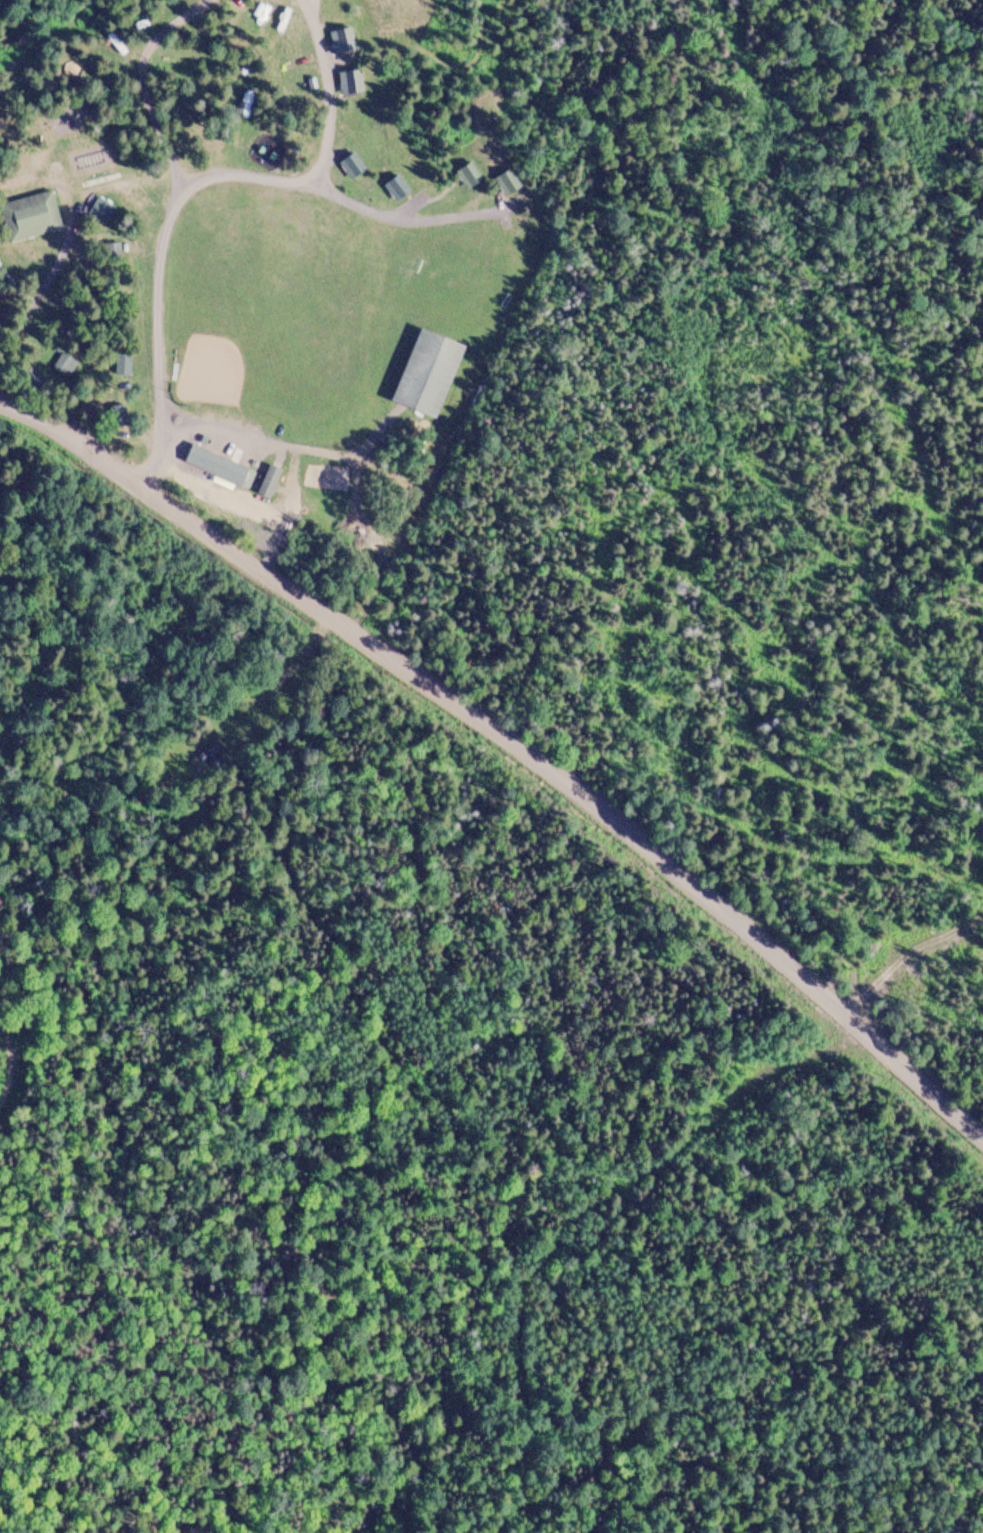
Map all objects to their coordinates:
road: (310, 1)
building: (343, 41)
building: (351, 81)
road: (147, 85)
road: (326, 93)
road: (113, 135)
building: (352, 166)
building: (468, 175)
road: (191, 182)
building: (506, 182)
building: (396, 188)
building: (29, 216)
building: (109, 251)
park: (269, 301)
building: (121, 363)
building: (427, 370)
road: (284, 443)
building: (218, 466)
building: (267, 481)
road: (512, 739)

